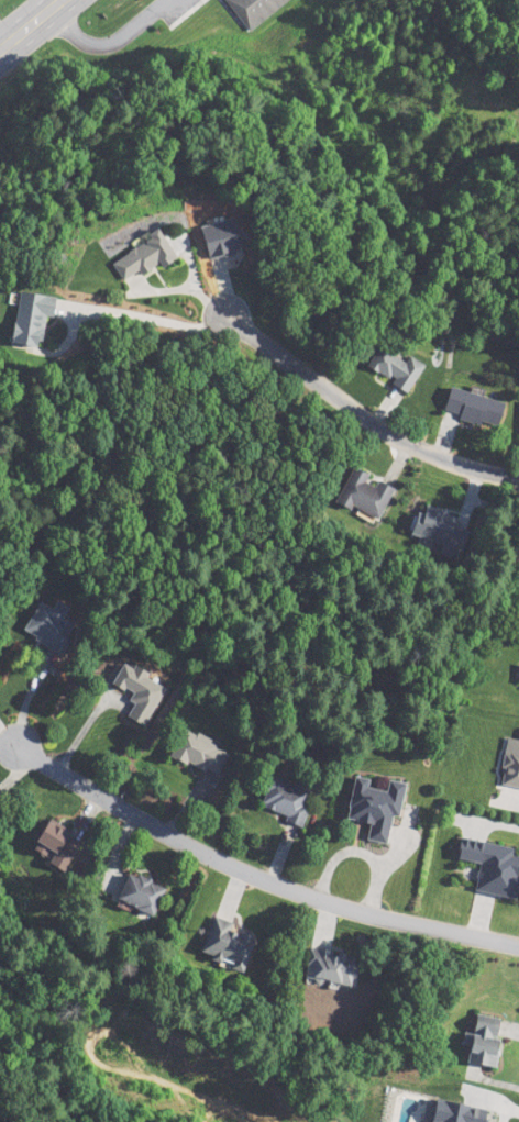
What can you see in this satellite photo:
building: (251, 10)
road: (29, 23)
road: (106, 42)
building: (218, 237)
building: (139, 255)
building: (29, 316)
road: (146, 316)
building: (389, 366)
building: (470, 406)
road: (363, 412)
building: (518, 431)
building: (361, 493)
building: (430, 523)
building: (517, 677)
building: (135, 692)
building: (195, 751)
building: (509, 762)
building: (279, 796)
building: (371, 806)
building: (54, 842)
building: (489, 865)
road: (254, 871)
building: (136, 892)
building: (222, 943)
building: (327, 965)
building: (481, 1038)

